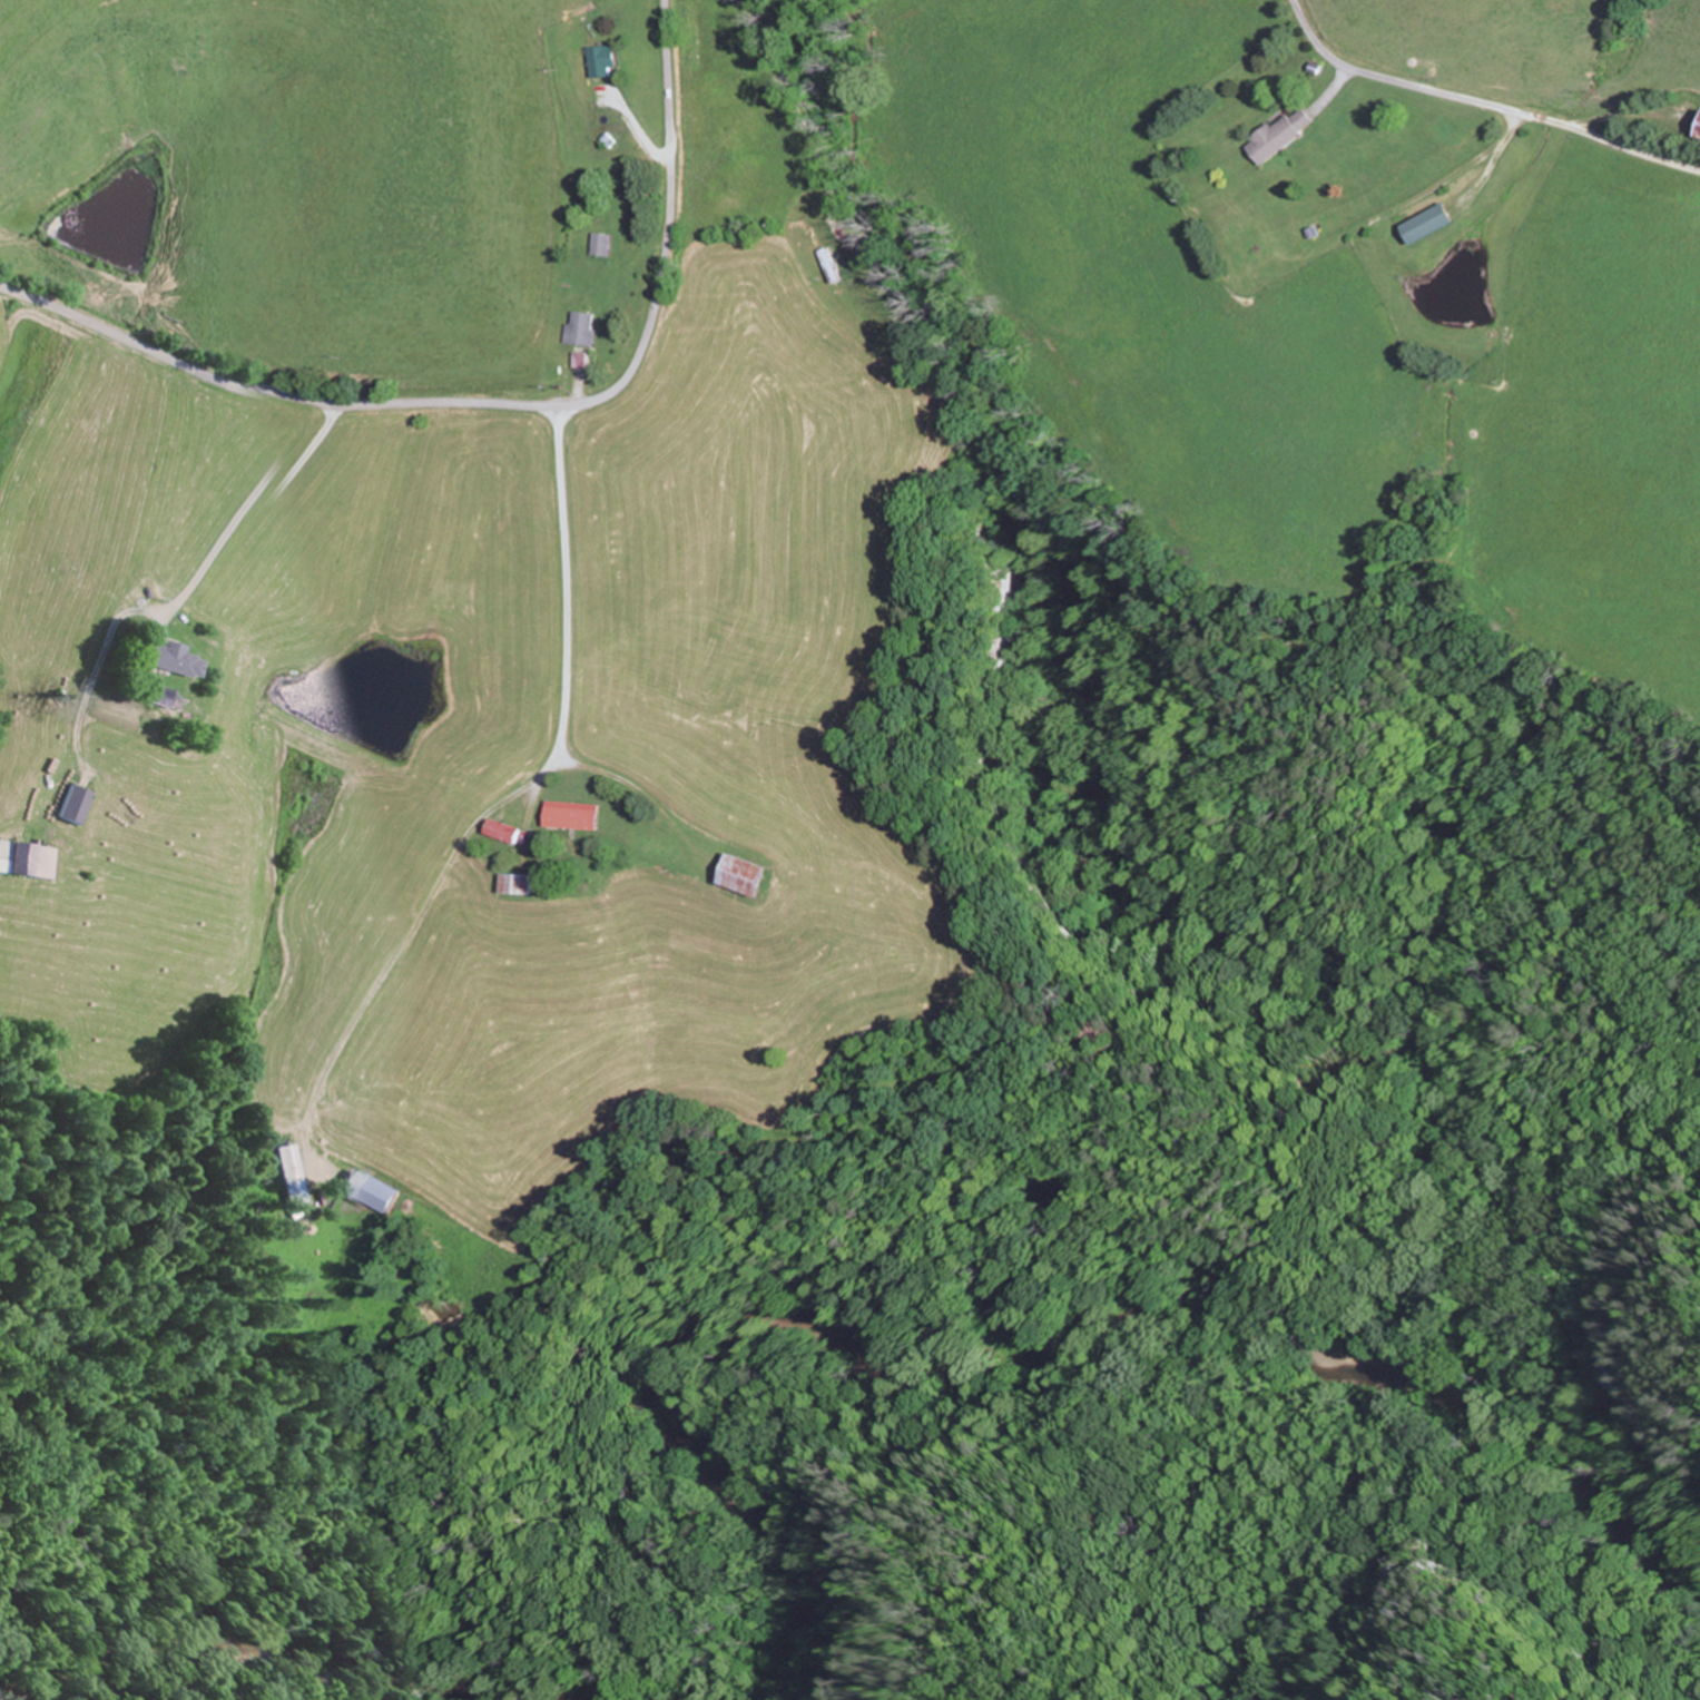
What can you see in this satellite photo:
building: (603, 63)
road: (1369, 77)
building: (1698, 131)
building: (1272, 141)
building: (1426, 226)
building: (601, 246)
building: (1241, 248)
building: (581, 330)
building: (577, 360)
road: (498, 406)
building: (179, 659)
road: (515, 678)
building: (169, 697)
building: (81, 805)
building: (574, 818)
building: (505, 832)
road: (501, 844)
building: (32, 858)
building: (747, 875)
building: (520, 884)
building: (297, 1175)
building: (371, 1192)

